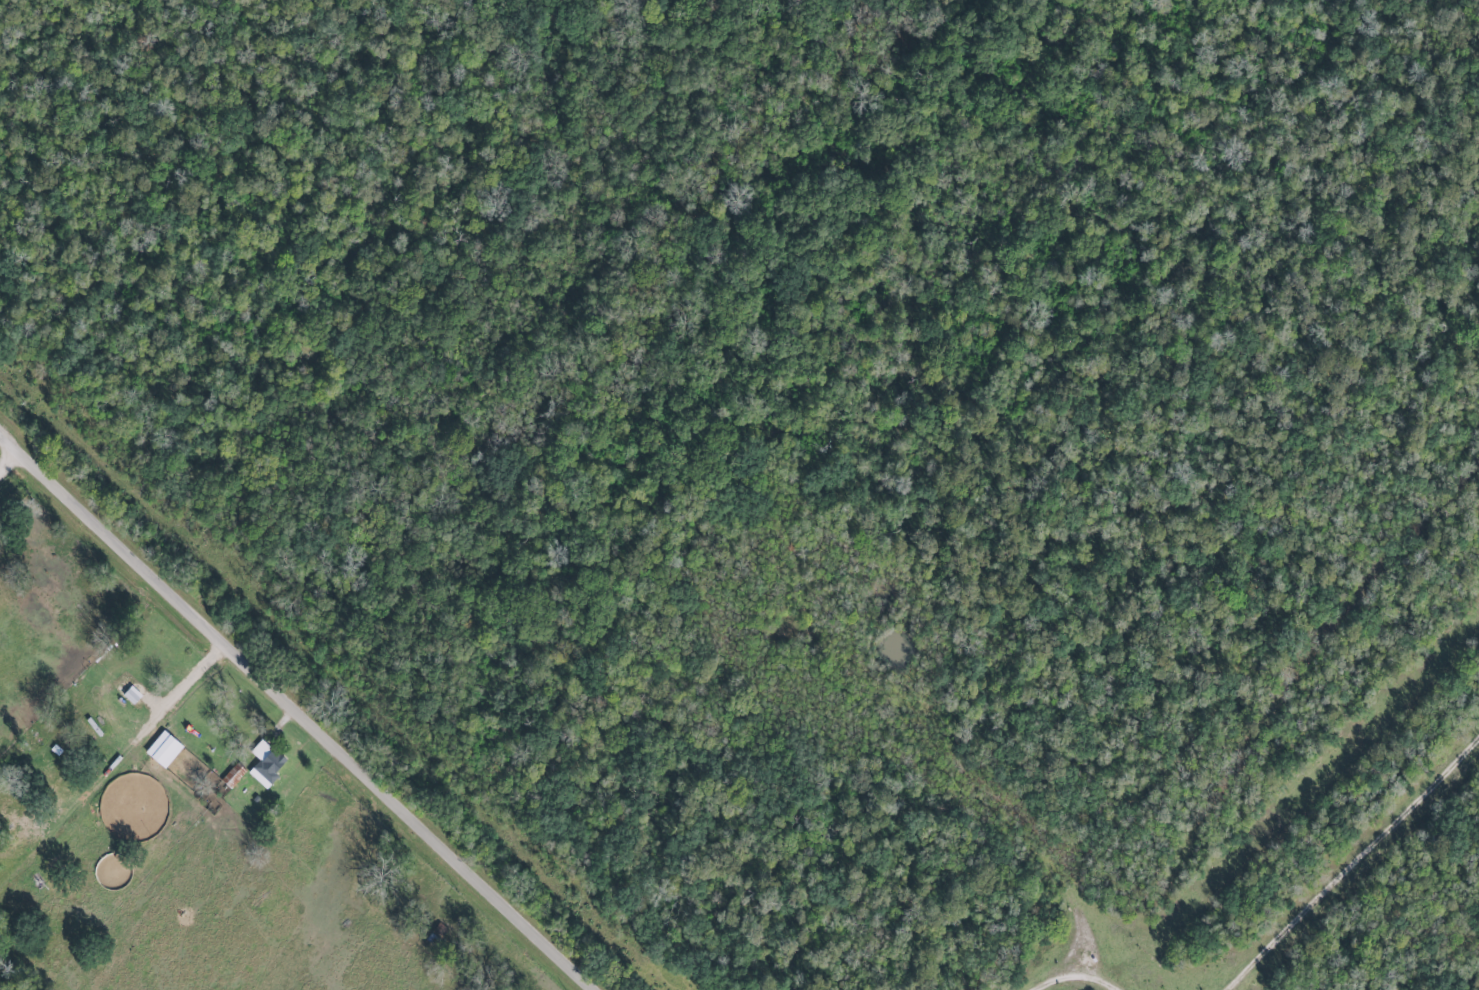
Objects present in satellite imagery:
road: (13, 469)
road: (299, 709)
building: (266, 763)
building: (234, 776)
road: (1361, 872)
road: (1078, 981)

